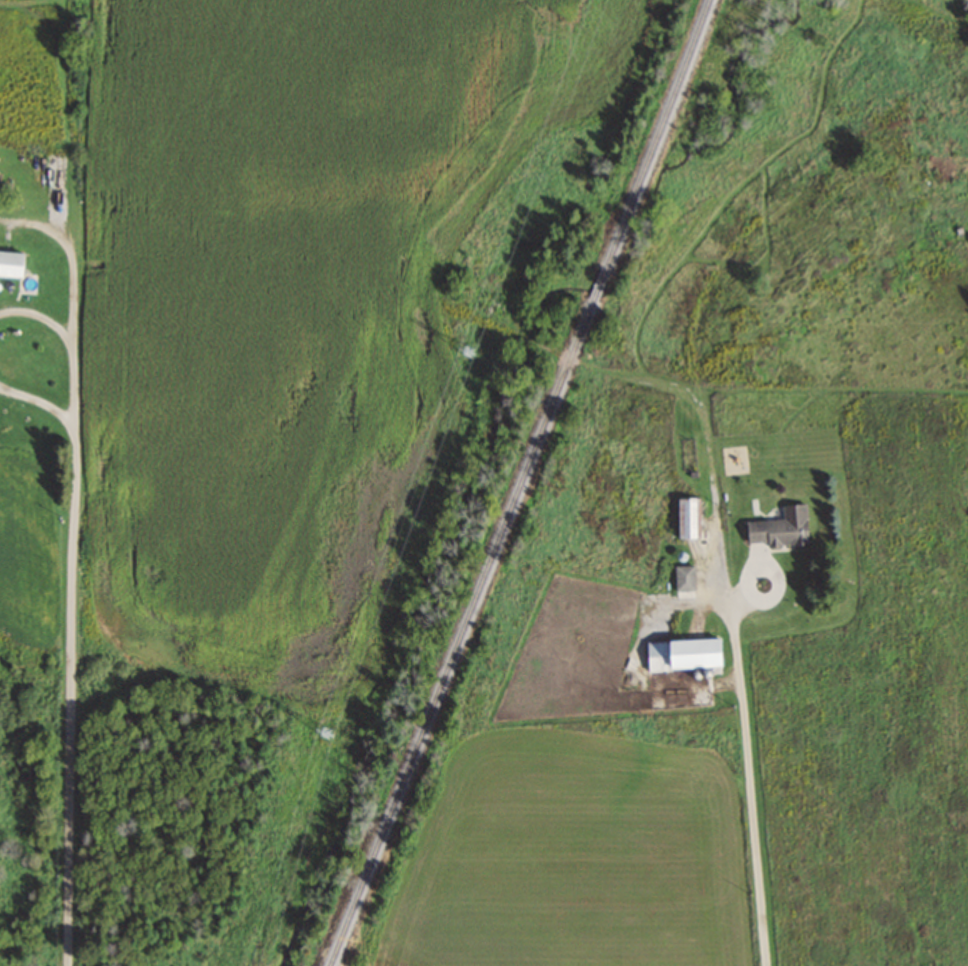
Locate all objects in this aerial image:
railway: (661, 140)
building: (9, 262)
railway: (603, 287)
road: (69, 340)
road: (38, 400)
building: (687, 517)
building: (778, 527)
building: (682, 578)
railway: (466, 630)
building: (681, 653)
road: (68, 693)
road: (754, 785)

